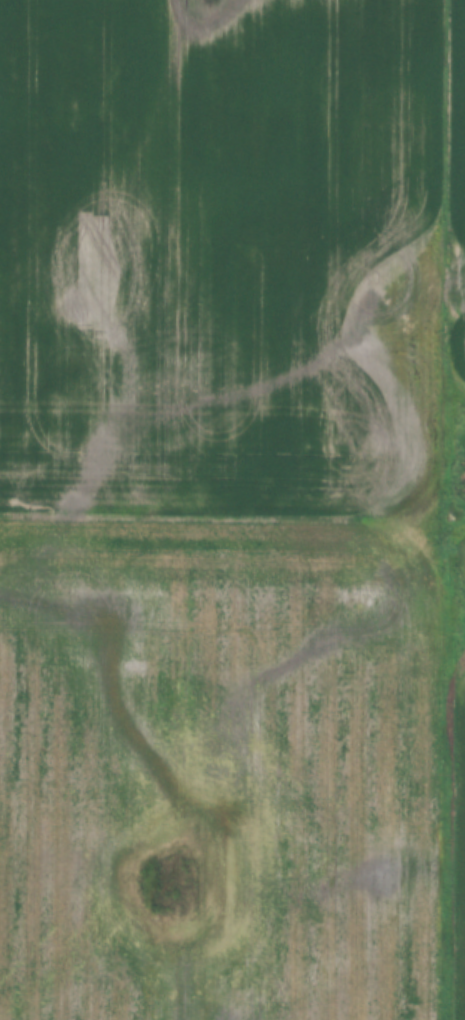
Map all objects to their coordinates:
road: (131, 772)

